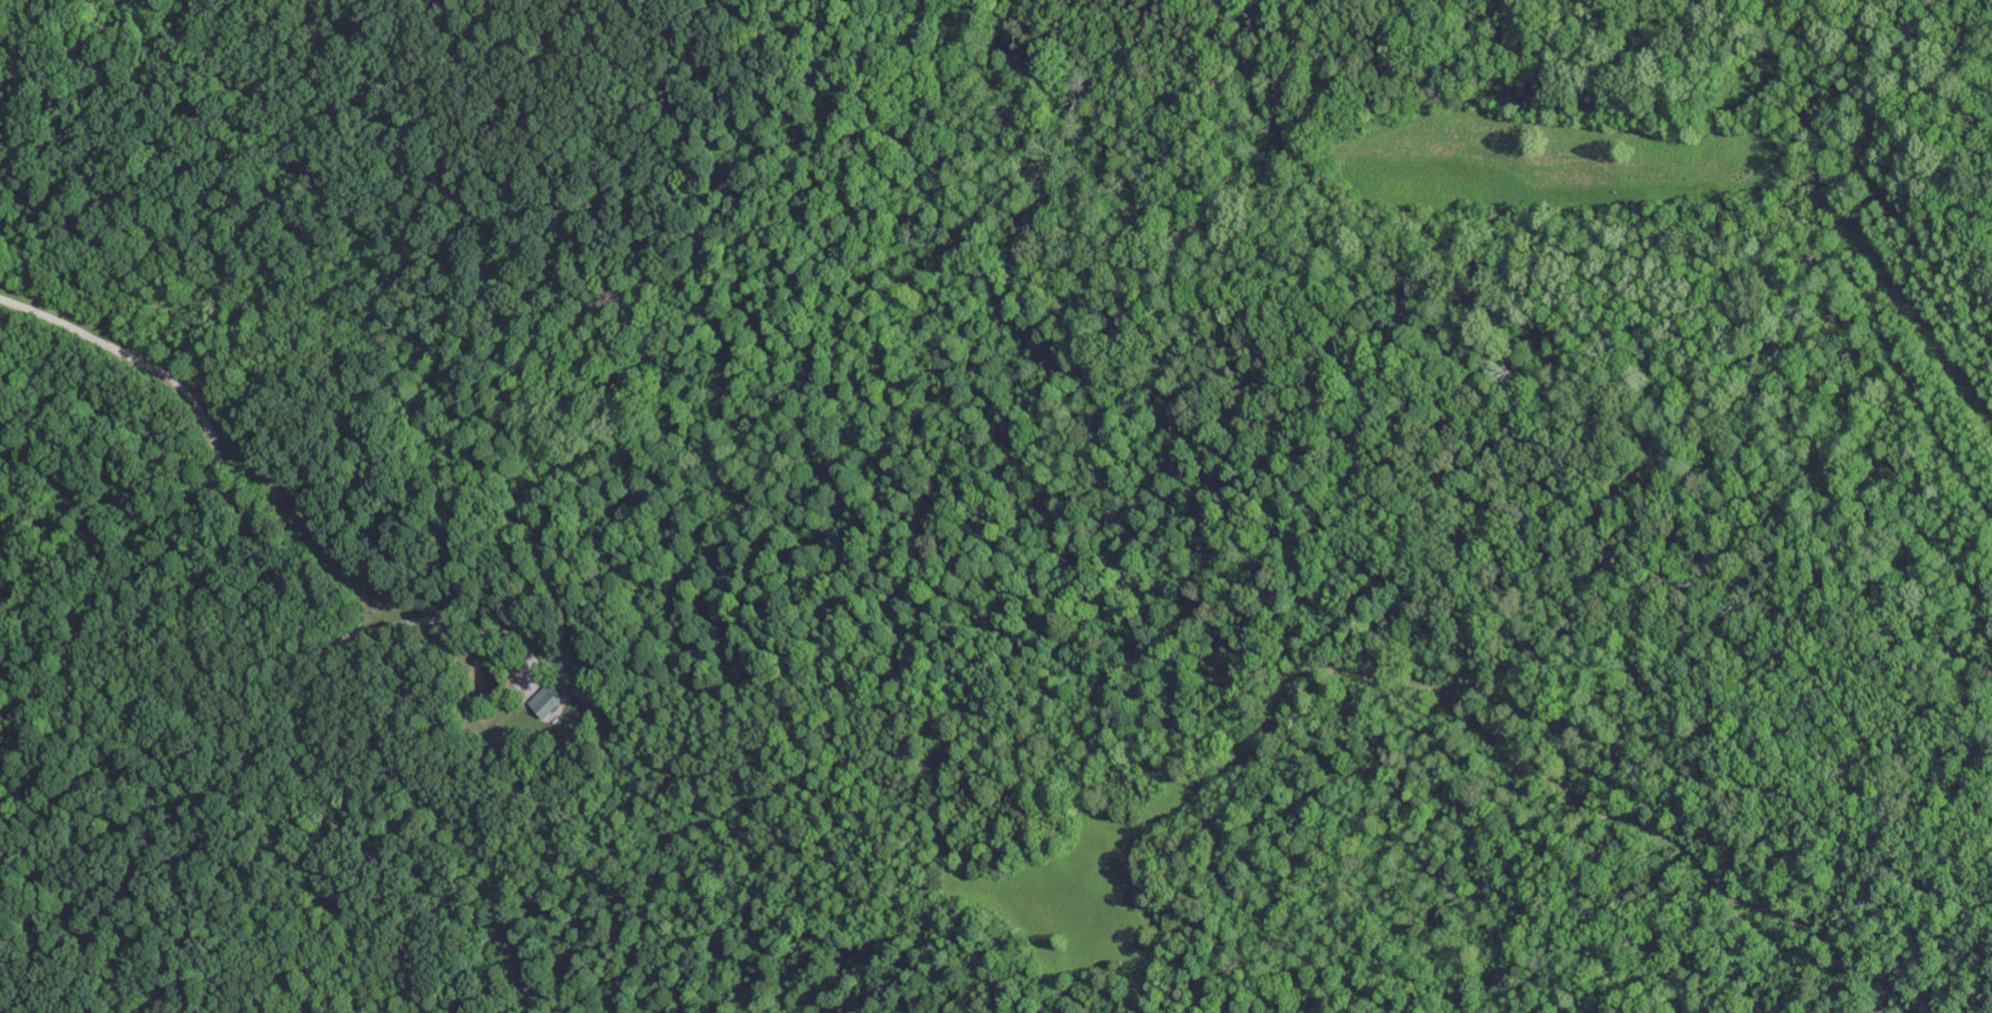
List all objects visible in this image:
building: (547, 700)

